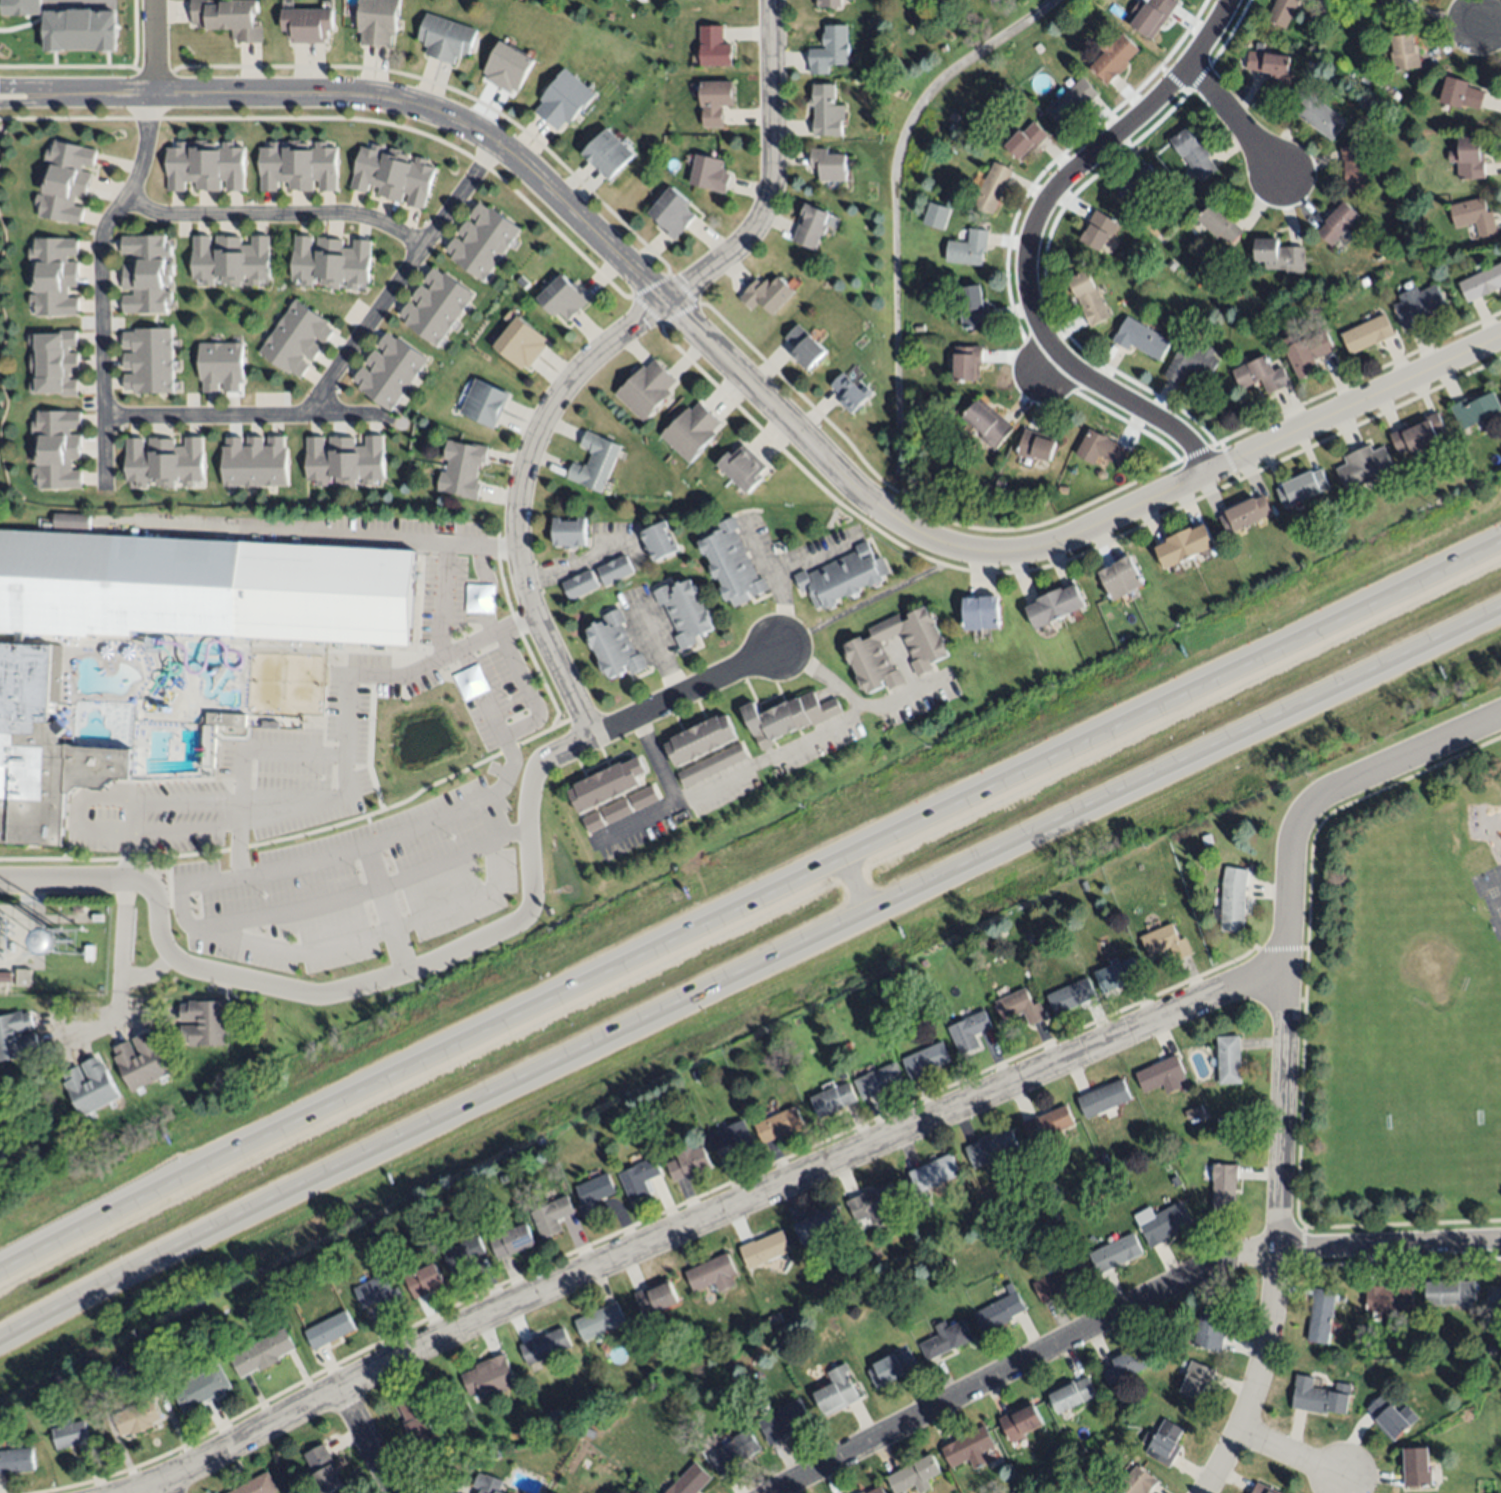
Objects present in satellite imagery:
building: (1395, 0)
building: (828, 2)
building: (21, 7)
building: (1282, 12)
building: (1151, 16)
building: (228, 17)
building: (377, 21)
building: (306, 23)
road: (1488, 26)
building: (80, 31)
building: (446, 37)
building: (713, 44)
building: (829, 48)
building: (942, 48)
building: (1405, 52)
building: (1111, 58)
building: (508, 66)
building: (1270, 69)
building: (1460, 94)
building: (564, 98)
building: (715, 100)
building: (1070, 102)
building: (823, 110)
building: (1319, 117)
road: (1231, 118)
road: (367, 121)
building: (1027, 141)
building: (607, 152)
building: (1193, 153)
building: (1467, 158)
building: (828, 163)
road: (1082, 163)
building: (198, 165)
building: (291, 165)
building: (214, 166)
building: (233, 166)
building: (307, 166)
building: (178, 167)
building: (271, 167)
building: (326, 167)
building: (1357, 169)
building: (709, 172)
building: (393, 174)
building: (65, 179)
building: (1135, 184)
building: (992, 188)
building: (672, 212)
road: (275, 215)
building: (935, 216)
building: (1473, 216)
building: (1339, 223)
building: (810, 224)
building: (1219, 224)
building: (1099, 230)
road: (99, 239)
building: (482, 239)
building: (146, 246)
building: (53, 249)
building: (968, 249)
building: (1279, 256)
building: (221, 259)
building: (1435, 259)
building: (203, 260)
building: (238, 260)
building: (259, 260)
building: (303, 260)
building: (322, 261)
building: (338, 264)
building: (358, 264)
building: (148, 266)
building: (54, 268)
building: (1365, 281)
building: (146, 282)
building: (1481, 282)
building: (53, 285)
building: (766, 292)
building: (562, 296)
building: (1088, 296)
building: (146, 302)
building: (435, 304)
building: (55, 305)
building: (1416, 305)
building: (972, 307)
building: (918, 328)
building: (1367, 334)
building: (295, 337)
building: (520, 339)
building: (1141, 339)
building: (54, 341)
building: (915, 341)
building: (804, 346)
road: (753, 350)
road: (602, 351)
building: (1307, 353)
building: (54, 357)
building: (149, 359)
road: (342, 362)
building: (1191, 362)
building: (967, 364)
building: (220, 365)
road: (1045, 367)
building: (389, 370)
building: (53, 371)
building: (1259, 375)
building: (54, 386)
road: (749, 386)
building: (646, 388)
building: (849, 391)
building: (484, 401)
road: (1137, 410)
building: (1475, 410)
road: (1368, 418)
building: (56, 422)
building: (988, 424)
building: (691, 430)
building: (1418, 434)
building: (58, 441)
building: (1035, 447)
building: (1102, 449)
building: (56, 457)
building: (344, 459)
building: (164, 460)
building: (252, 460)
building: (594, 460)
building: (462, 467)
building: (742, 467)
building: (1363, 467)
building: (1101, 474)
building: (57, 477)
building: (999, 484)
building: (987, 487)
building: (1302, 487)
building: (1062, 490)
building: (1244, 514)
building: (72, 519)
building: (568, 531)
road: (393, 540)
building: (658, 540)
building: (1184, 544)
road: (915, 552)
road: (812, 559)
road: (575, 560)
building: (730, 561)
road: (444, 565)
building: (614, 569)
building: (1120, 575)
building: (841, 576)
building: (578, 583)
road: (778, 583)
building: (1250, 587)
road: (485, 589)
road: (866, 600)
building: (1054, 605)
building: (683, 610)
building: (979, 611)
building: (161, 628)
building: (613, 644)
building: (926, 647)
road: (658, 648)
road: (819, 671)
road: (527, 687)
road: (903, 700)
building: (787, 716)
building: (225, 718)
building: (269, 723)
building: (699, 739)
road: (1422, 749)
road: (655, 759)
road: (241, 764)
building: (711, 764)
road: (729, 776)
building: (604, 783)
road: (334, 792)
building: (643, 797)
building: (614, 809)
building: (592, 821)
road: (416, 825)
building: (1206, 840)
road: (131, 850)
road: (862, 879)
building: (1084, 887)
road: (363, 892)
road: (745, 898)
building: (1234, 898)
road: (384, 909)
building: (79, 911)
building: (97, 917)
building: (1001, 931)
power substation: (14, 936)
building: (1027, 938)
road: (343, 942)
building: (1165, 942)
water tower: (84, 945)
building: (90, 950)
road: (442, 958)
road: (749, 968)
building: (1117, 975)
building: (23, 978)
road: (119, 981)
building: (883, 993)
building: (1071, 996)
building: (1019, 1007)
building: (204, 1021)
building: (968, 1033)
building: (16, 1034)
building: (141, 1060)
building: (925, 1060)
building: (1228, 1060)
building: (1161, 1074)
building: (694, 1075)
building: (842, 1076)
building: (878, 1081)
building: (90, 1085)
building: (1103, 1098)
building: (832, 1099)
building: (1195, 1111)
building: (644, 1113)
building: (1226, 1120)
building: (779, 1124)
building: (1047, 1124)
road: (1280, 1135)
building: (731, 1138)
building: (644, 1147)
building: (991, 1148)
building: (1, 1157)
building: (687, 1163)
building: (934, 1173)
building: (504, 1177)
building: (637, 1178)
building: (1223, 1187)
building: (1052, 1190)
building: (594, 1195)
building: (930, 1201)
building: (873, 1204)
building: (396, 1216)
building: (551, 1217)
road: (702, 1218)
building: (1161, 1223)
building: (818, 1225)
building: (512, 1241)
building: (764, 1250)
building: (1115, 1254)
building: (463, 1255)
building: (710, 1274)
building: (1060, 1280)
building: (423, 1281)
building: (1450, 1292)
building: (379, 1293)
building: (1493, 1297)
building: (1388, 1298)
building: (656, 1300)
building: (199, 1305)
road: (1123, 1308)
building: (999, 1311)
building: (1320, 1315)
building: (774, 1320)
building: (599, 1321)
building: (329, 1330)
building: (1210, 1330)
building: (946, 1341)
building: (544, 1346)
building: (1491, 1348)
building: (262, 1353)
building: (1123, 1366)
building: (891, 1369)
building: (89, 1373)
building: (490, 1377)
building: (59, 1378)
building: (120, 1378)
building: (1197, 1381)
building: (201, 1389)
building: (837, 1392)
building: (1073, 1395)
building: (1320, 1397)
building: (1120, 1405)
building: (554, 1415)
building: (1390, 1416)
building: (136, 1418)
building: (782, 1421)
building: (418, 1424)
building: (1019, 1424)
building: (534, 1427)
building: (590, 1434)
building: (75, 1439)
road: (371, 1441)
building: (1165, 1443)
building: (969, 1448)
building: (1081, 1451)
building: (735, 1452)
building: (495, 1454)
road: (1288, 1454)
building: (16, 1461)
building: (1417, 1467)
building: (323, 1469)
building: (530, 1472)
building: (914, 1476)
building: (691, 1481)
building: (1136, 1482)
building: (488, 1484)
building: (257, 1485)
road: (164, 1487)
building: (1263, 1489)
building: (877, 1491)
building: (638, 1492)
building: (863, 1492)

